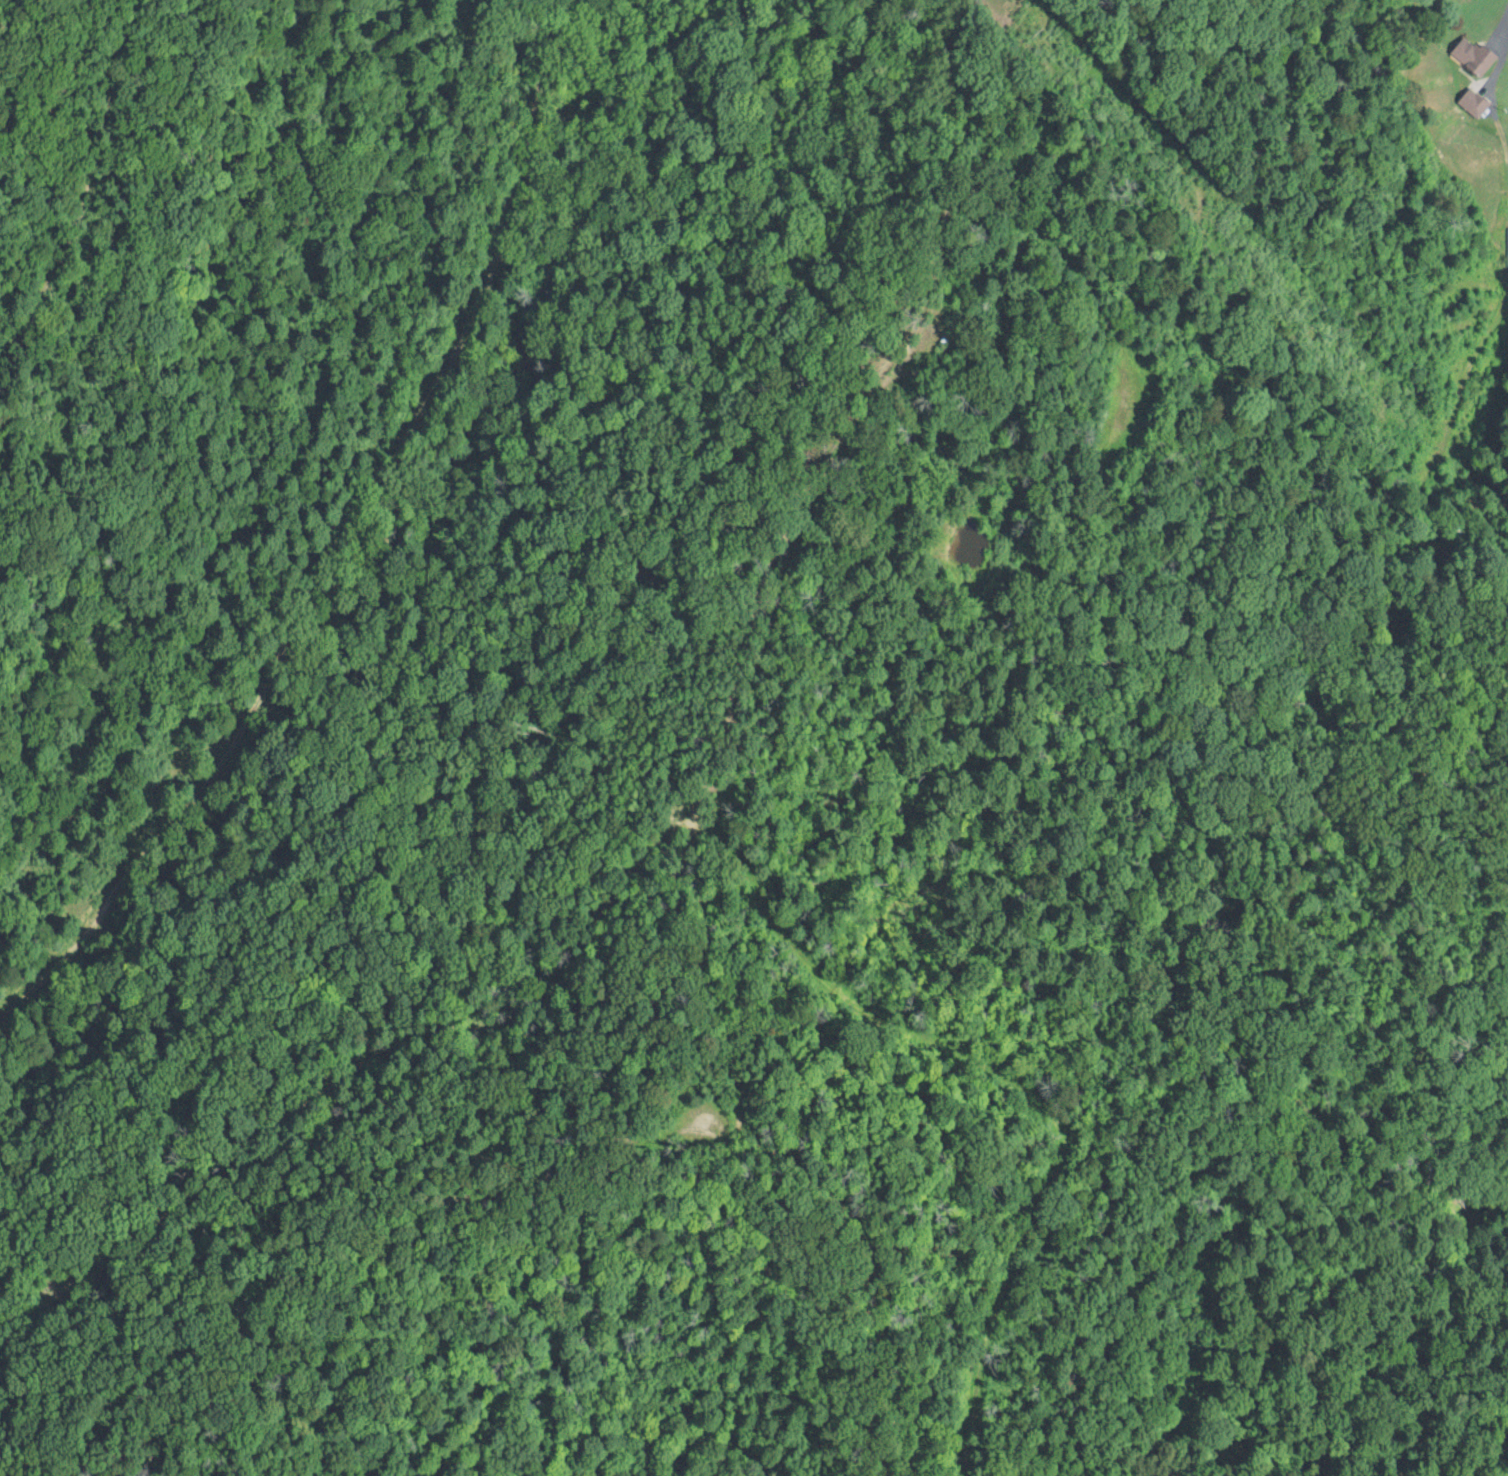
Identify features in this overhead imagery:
building: (1469, 55)
road: (1493, 62)
building: (1472, 103)
building: (1507, 247)

